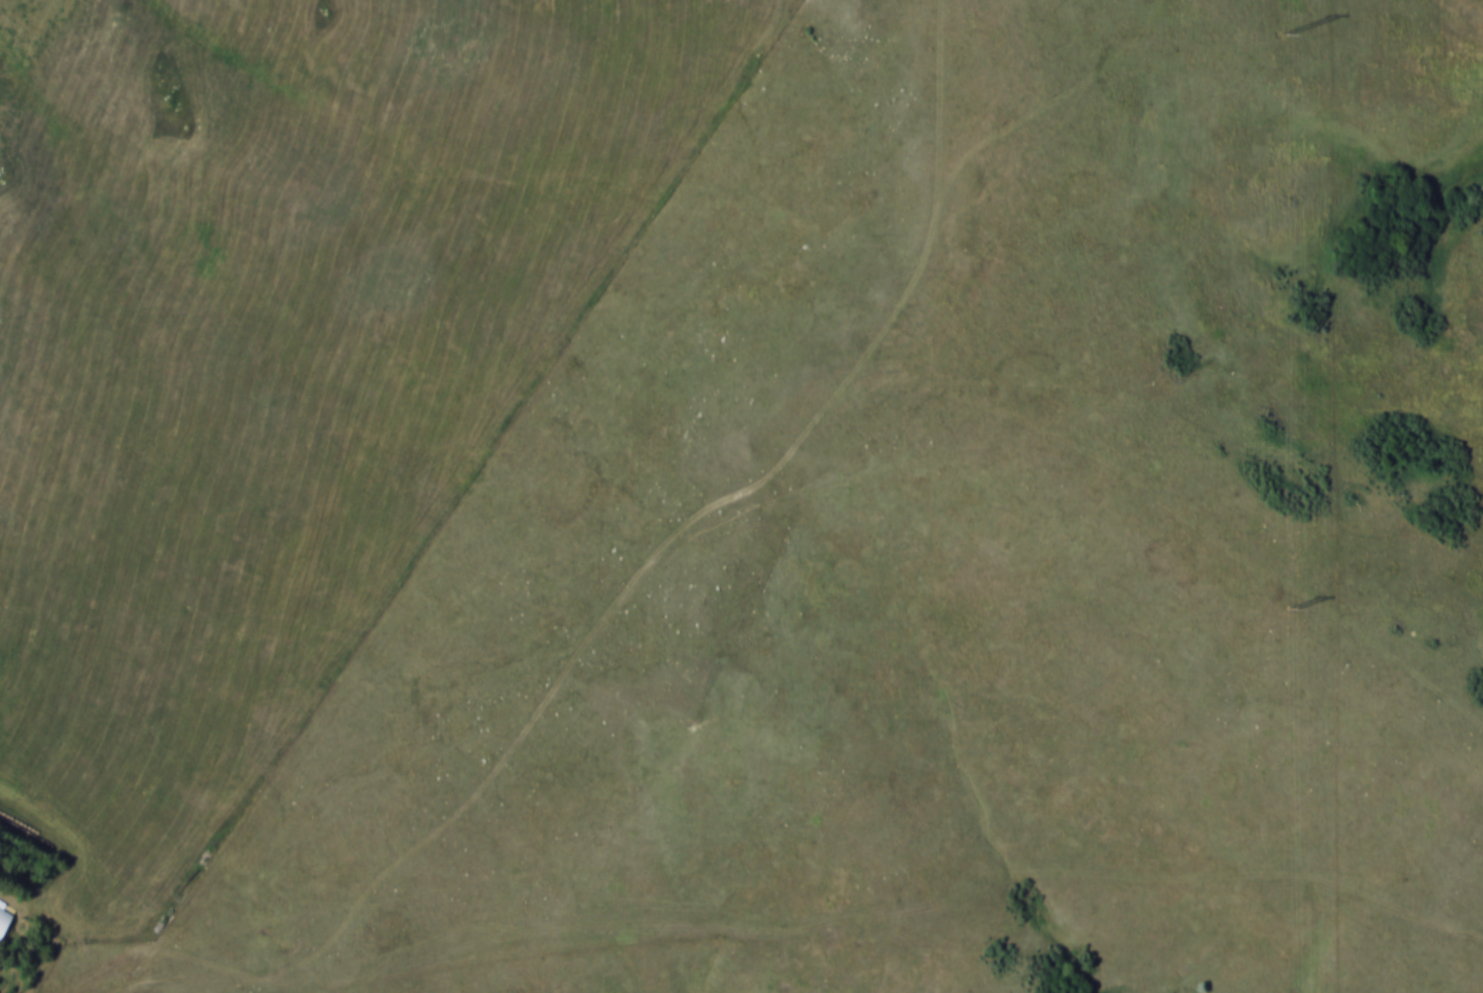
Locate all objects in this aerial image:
power tower: (1292, 33)
power tower: (1298, 609)
road: (9, 896)
building: (4, 920)

